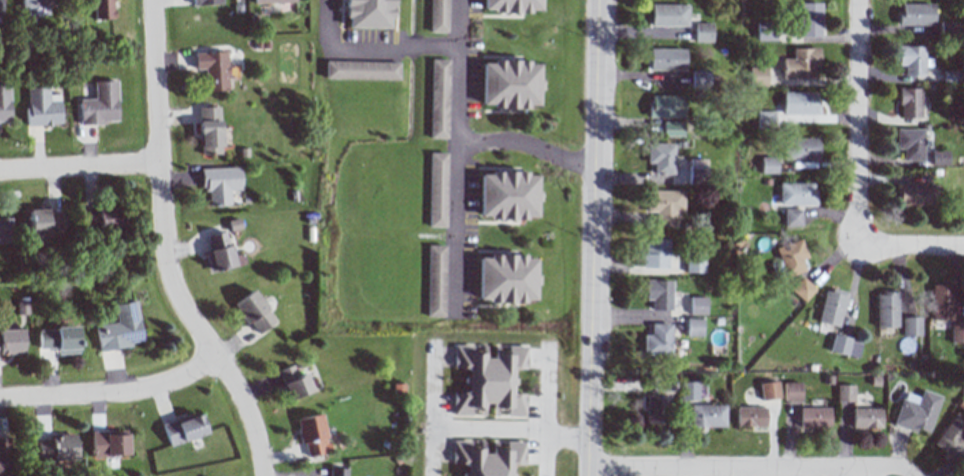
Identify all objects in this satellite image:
building: (271, 1)
building: (206, 2)
building: (38, 3)
building: (510, 5)
building: (102, 9)
building: (0, 11)
building: (916, 14)
building: (365, 15)
building: (668, 15)
building: (435, 16)
building: (810, 19)
building: (948, 27)
building: (702, 32)
road: (367, 49)
building: (666, 59)
building: (912, 60)
building: (801, 63)
building: (213, 69)
building: (359, 71)
building: (757, 76)
building: (699, 79)
building: (507, 86)
building: (435, 100)
building: (4, 101)
building: (800, 103)
building: (909, 103)
building: (100, 104)
building: (666, 106)
building: (41, 107)
building: (765, 119)
road: (858, 123)
building: (672, 129)
building: (209, 130)
building: (910, 143)
road: (525, 146)
building: (800, 148)
road: (454, 155)
building: (660, 157)
building: (939, 157)
building: (769, 165)
road: (80, 167)
building: (696, 175)
building: (220, 183)
building: (434, 190)
building: (797, 193)
building: (913, 194)
building: (505, 197)
building: (664, 206)
building: (793, 217)
building: (102, 218)
building: (45, 222)
building: (5, 230)
road: (591, 238)
road: (910, 247)
road: (163, 250)
building: (220, 253)
building: (654, 253)
building: (792, 257)
building: (694, 261)
building: (502, 280)
building: (432, 282)
building: (803, 289)
building: (658, 294)
building: (942, 301)
building: (696, 305)
building: (831, 307)
building: (886, 310)
building: (253, 312)
building: (911, 326)
building: (692, 327)
building: (119, 328)
building: (957, 334)
building: (59, 339)
building: (656, 340)
building: (11, 341)
building: (845, 346)
building: (486, 381)
building: (293, 383)
building: (768, 390)
building: (687, 391)
building: (792, 391)
road: (112, 393)
building: (845, 393)
road: (426, 409)
building: (655, 409)
road: (541, 411)
building: (917, 411)
building: (706, 415)
building: (750, 416)
building: (814, 417)
building: (866, 417)
building: (183, 429)
road: (507, 430)
building: (311, 434)
building: (952, 437)
building: (109, 443)
building: (55, 448)
building: (3, 456)
building: (485, 457)
road: (888, 466)
road: (722, 470)
building: (336, 472)

